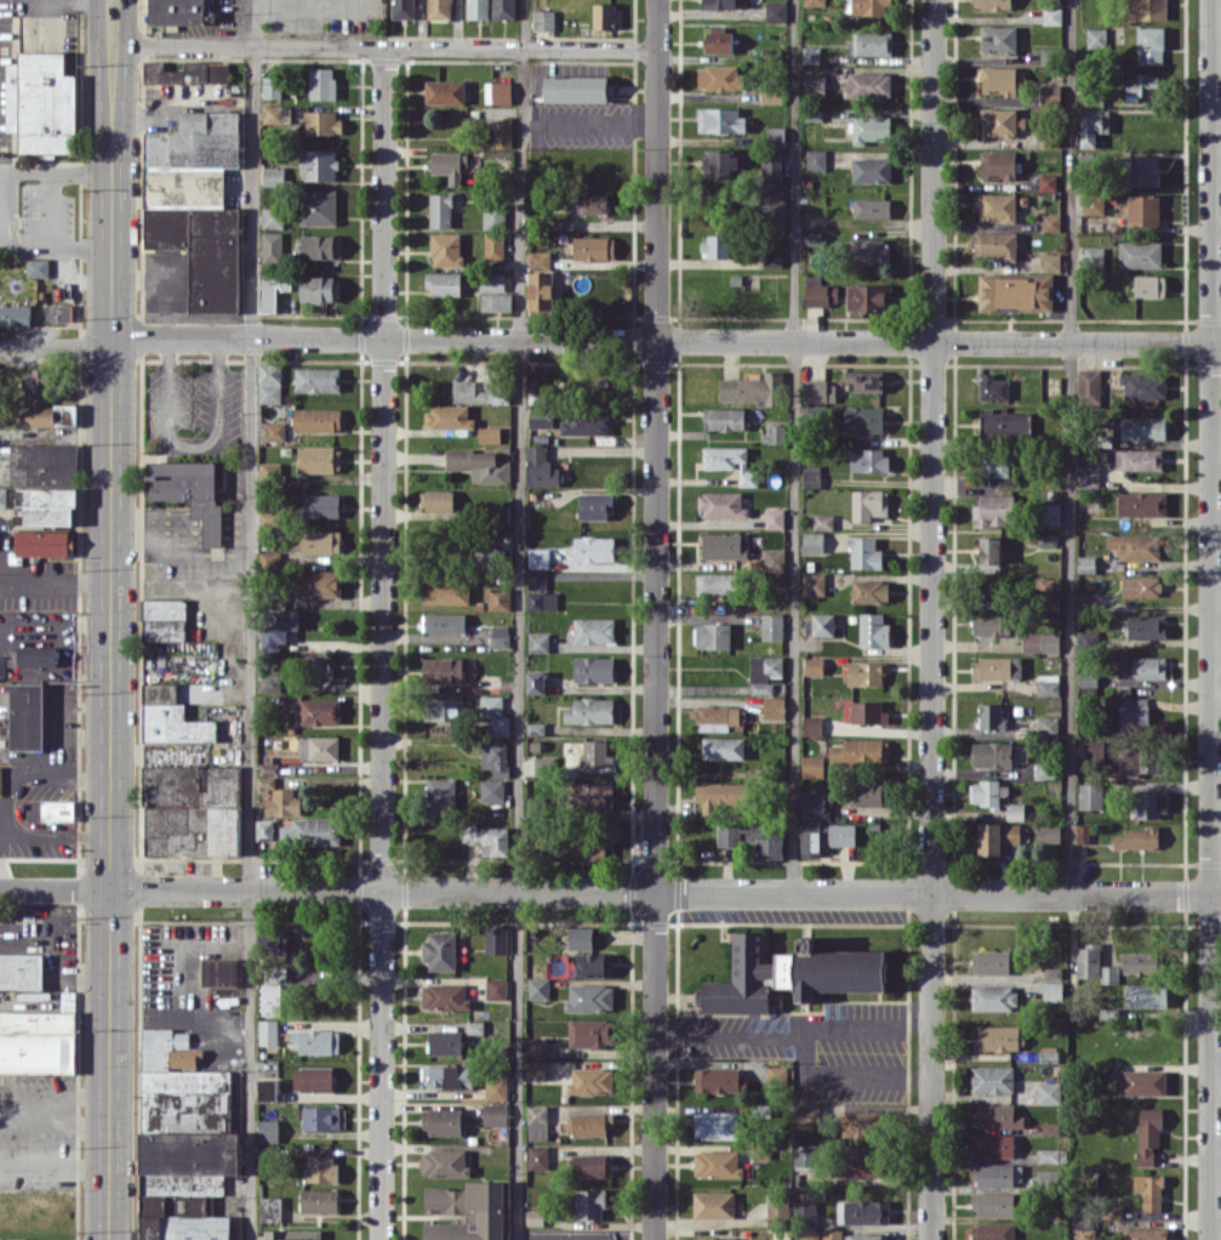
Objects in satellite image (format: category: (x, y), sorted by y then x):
building: (815, 2)
building: (720, 4)
building: (993, 4)
building: (868, 6)
building: (403, 8)
building: (439, 8)
building: (478, 8)
building: (503, 8)
building: (1146, 10)
building: (177, 11)
building: (775, 11)
building: (1051, 15)
building: (605, 16)
building: (543, 19)
building: (1096, 36)
building: (998, 39)
building: (719, 40)
building: (871, 42)
building: (1149, 44)
road: (383, 47)
building: (810, 53)
building: (187, 72)
building: (719, 76)
building: (998, 80)
building: (323, 83)
building: (814, 84)
building: (868, 84)
building: (1142, 85)
building: (272, 86)
building: (577, 87)
building: (445, 91)
building: (497, 91)
building: (1049, 93)
building: (771, 95)
building: (41, 102)
building: (273, 113)
building: (720, 119)
building: (1000, 120)
building: (320, 121)
building: (1092, 125)
building: (871, 127)
building: (502, 132)
building: (775, 135)
building: (816, 159)
building: (721, 161)
building: (318, 164)
building: (450, 164)
building: (998, 164)
building: (772, 166)
building: (871, 169)
building: (1143, 170)
road: (25, 172)
road: (81, 172)
building: (273, 175)
building: (1046, 182)
flagpole: (67, 190)
road: (0, 203)
building: (196, 203)
building: (594, 203)
building: (1094, 203)
building: (318, 206)
building: (775, 206)
building: (997, 206)
building: (872, 207)
building: (440, 210)
building: (1141, 210)
road: (51, 211)
building: (493, 215)
building: (273, 217)
building: (1050, 222)
building: (997, 244)
building: (272, 245)
building: (493, 245)
building: (715, 245)
building: (321, 246)
building: (593, 248)
building: (446, 249)
road: (53, 250)
building: (869, 250)
building: (1092, 252)
building: (1140, 254)
building: (540, 258)
building: (1050, 261)
building: (38, 267)
building: (492, 281)
building: (444, 283)
building: (1149, 285)
building: (320, 288)
building: (272, 290)
building: (540, 290)
building: (1015, 292)
building: (821, 294)
building: (869, 297)
building: (496, 301)
building: (58, 312)
building: (15, 314)
road: (678, 340)
road: (108, 342)
road: (40, 347)
building: (318, 379)
building: (865, 379)
building: (35, 380)
building: (536, 380)
building: (270, 382)
building: (496, 385)
building: (1143, 385)
building: (1089, 386)
building: (993, 387)
building: (754, 388)
building: (820, 391)
building: (47, 415)
building: (449, 416)
building: (541, 416)
building: (318, 419)
building: (724, 419)
building: (862, 419)
building: (586, 422)
building: (1004, 423)
building: (1139, 427)
building: (274, 430)
building: (775, 433)
building: (489, 434)
road: (192, 445)
road: (793, 445)
road: (1069, 446)
building: (319, 459)
building: (1139, 459)
building: (868, 460)
building: (731, 462)
building: (995, 462)
building: (480, 465)
building: (542, 467)
building: (270, 470)
building: (811, 476)
building: (1088, 476)
building: (45, 482)
building: (189, 491)
building: (2, 496)
building: (437, 500)
building: (868, 504)
building: (1142, 504)
building: (321, 505)
building: (721, 505)
building: (595, 506)
building: (993, 510)
building: (498, 513)
building: (1052, 513)
building: (775, 517)
building: (823, 521)
building: (1046, 539)
building: (321, 541)
building: (812, 541)
building: (45, 542)
building: (725, 545)
building: (1136, 545)
building: (594, 548)
building: (989, 548)
building: (865, 552)
building: (538, 557)
building: (270, 559)
building: (774, 559)
building: (1086, 563)
building: (537, 579)
building: (320, 582)
building: (715, 584)
building: (814, 584)
building: (1141, 585)
building: (1048, 586)
building: (869, 591)
building: (446, 592)
building: (498, 598)
building: (541, 599)
road: (109, 619)
building: (164, 619)
road: (251, 619)
road: (519, 619)
road: (932, 619)
road: (656, 620)
road: (1210, 620)
building: (444, 621)
building: (821, 624)
building: (991, 625)
building: (772, 626)
building: (1147, 626)
building: (278, 627)
building: (594, 628)
building: (873, 630)
building: (713, 635)
building: (500, 636)
building: (1088, 638)
building: (538, 642)
building: (1040, 642)
road: (383, 643)
building: (36, 655)
building: (493, 662)
building: (323, 665)
building: (814, 665)
building: (1, 666)
building: (1141, 666)
building: (997, 667)
building: (443, 669)
building: (593, 669)
building: (764, 672)
building: (866, 672)
building: (269, 682)
building: (535, 682)
building: (1048, 684)
building: (491, 704)
building: (774, 706)
building: (444, 709)
building: (177, 710)
building: (590, 710)
building: (319, 711)
building: (868, 712)
building: (27, 716)
building: (717, 716)
building: (991, 716)
building: (1129, 716)
building: (498, 724)
building: (1048, 724)
building: (812, 726)
building: (319, 747)
building: (724, 747)
building: (1094, 749)
building: (860, 750)
building: (595, 753)
building: (992, 755)
building: (495, 757)
building: (1140, 760)
building: (544, 764)
building: (812, 766)
building: (1044, 769)
building: (1, 780)
building: (492, 790)
building: (869, 792)
building: (988, 792)
building: (593, 795)
building: (720, 795)
building: (1090, 795)
building: (441, 796)
building: (287, 802)
building: (1151, 802)
building: (816, 804)
building: (535, 806)
road: (10, 808)
building: (58, 809)
building: (192, 810)
building: (1015, 810)
building: (264, 829)
building: (312, 831)
building: (1083, 832)
building: (728, 834)
building: (841, 834)
building: (1049, 834)
building: (997, 836)
building: (487, 837)
building: (810, 837)
building: (1139, 837)
building: (764, 842)
building: (574, 847)
road: (2, 859)
road: (610, 892)
building: (581, 937)
building: (496, 939)
building: (273, 942)
building: (440, 949)
building: (991, 961)
building: (1140, 962)
building: (594, 963)
building: (1094, 965)
building: (21, 971)
building: (219, 972)
building: (789, 973)
building: (496, 988)
building: (538, 988)
building: (1052, 990)
building: (1146, 995)
building: (445, 996)
building: (589, 996)
building: (994, 997)
building: (272, 999)
building: (474, 1026)
building: (268, 1031)
building: (589, 1033)
road: (794, 1035)
building: (998, 1037)
building: (38, 1041)
building: (316, 1041)
building: (445, 1042)
building: (536, 1047)
building: (535, 1069)
building: (777, 1074)
building: (449, 1075)
road: (850, 1076)
building: (313, 1079)
building: (992, 1079)
building: (590, 1080)
building: (717, 1080)
building: (1145, 1081)
building: (267, 1088)
building: (496, 1088)
building: (1048, 1092)
road: (53, 1097)
building: (495, 1114)
building: (808, 1115)
building: (995, 1116)
building: (321, 1117)
building: (443, 1121)
building: (537, 1122)
building: (589, 1122)
building: (861, 1122)
building: (717, 1125)
building: (1050, 1127)
building: (269, 1130)
building: (1148, 1133)
building: (183, 1141)
building: (992, 1144)
building: (538, 1156)
building: (806, 1157)
building: (444, 1162)
building: (858, 1162)
building: (717, 1164)
building: (592, 1165)
building: (321, 1168)
road: (55, 1170)
building: (995, 1173)
building: (1046, 1174)
building: (1149, 1190)
building: (320, 1200)
building: (590, 1204)
building: (714, 1204)
building: (777, 1204)
building: (993, 1204)
building: (270, 1208)
building: (467, 1211)
building: (804, 1211)
building: (862, 1211)
building: (1113, 1211)
building: (534, 1217)
building: (993, 1230)
building: (1084, 1232)
building: (804, 1233)
building: (1146, 1233)
building: (292, 1234)
building: (867, 1236)
building: (714, 1238)
building: (17, 1239)

